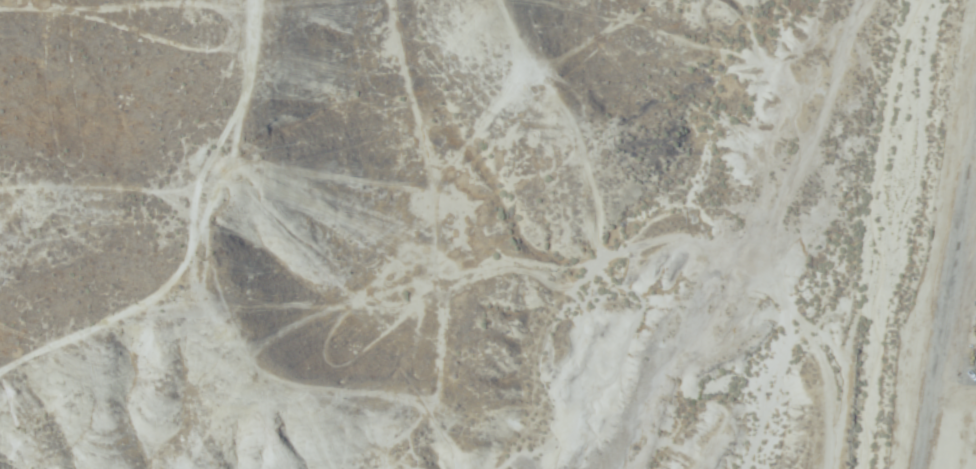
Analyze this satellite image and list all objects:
airport: (950, 297)

